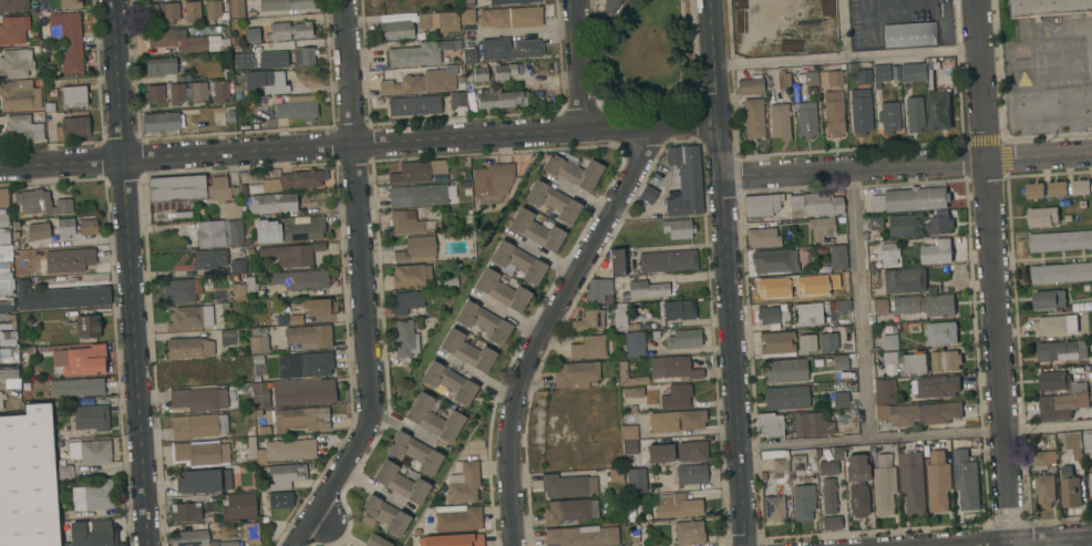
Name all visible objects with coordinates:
building: (181, 0)
building: (465, 1)
building: (509, 1)
building: (70, 3)
building: (285, 4)
building: (12, 6)
building: (610, 6)
building: (1051, 7)
building: (236, 8)
building: (212, 9)
building: (33, 10)
building: (40, 10)
building: (192, 10)
building: (148, 12)
building: (171, 12)
building: (466, 17)
building: (511, 17)
building: (440, 21)
road: (841, 29)
building: (13, 30)
building: (394, 30)
building: (289, 31)
road: (525, 31)
road: (727, 32)
building: (250, 34)
building: (909, 34)
building: (34, 38)
building: (68, 41)
building: (184, 41)
building: (527, 49)
building: (420, 53)
building: (468, 55)
park: (646, 55)
building: (302, 56)
road: (845, 56)
building: (272, 60)
building: (243, 61)
building: (16, 63)
road: (578, 63)
building: (162, 69)
building: (504, 71)
building: (913, 72)
building: (226, 73)
building: (480, 74)
building: (880, 74)
building: (863, 76)
building: (808, 78)
building: (834, 79)
building: (783, 81)
building: (262, 82)
building: (421, 82)
building: (750, 86)
building: (220, 91)
building: (198, 92)
building: (176, 94)
road: (638, 94)
building: (153, 95)
building: (19, 96)
building: (73, 96)
building: (457, 100)
building: (501, 100)
road: (610, 103)
building: (413, 106)
building: (297, 107)
building: (939, 110)
road: (645, 113)
building: (833, 113)
road: (1000, 113)
building: (914, 114)
building: (861, 115)
building: (230, 116)
building: (888, 117)
building: (753, 119)
building: (805, 120)
building: (162, 122)
building: (780, 122)
building: (74, 126)
building: (21, 130)
road: (357, 142)
road: (906, 164)
building: (418, 172)
building: (573, 172)
building: (461, 175)
building: (243, 176)
building: (287, 182)
building: (684, 182)
building: (491, 183)
building: (463, 185)
building: (1080, 187)
building: (1058, 188)
building: (1034, 189)
building: (187, 192)
building: (648, 194)
building: (416, 196)
building: (2, 197)
building: (910, 199)
building: (552, 202)
building: (42, 203)
building: (270, 203)
building: (821, 204)
building: (761, 205)
building: (231, 210)
building: (1042, 216)
building: (3, 218)
building: (468, 218)
building: (1068, 218)
building: (539, 219)
building: (839, 220)
building: (544, 222)
building: (409, 223)
building: (875, 223)
building: (14, 225)
building: (902, 225)
building: (939, 225)
building: (64, 227)
building: (87, 227)
building: (678, 228)
building: (821, 228)
building: (289, 229)
building: (535, 230)
building: (38, 231)
building: (218, 234)
building: (14, 235)
building: (4, 236)
building: (762, 237)
building: (1060, 240)
building: (248, 241)
road: (680, 247)
building: (887, 249)
building: (3, 250)
building: (416, 250)
building: (249, 251)
building: (937, 251)
building: (291, 255)
building: (837, 258)
building: (208, 259)
building: (68, 260)
building: (517, 261)
building: (667, 261)
building: (774, 261)
building: (617, 262)
building: (236, 266)
building: (457, 266)
building: (3, 267)
building: (870, 267)
building: (427, 271)
road: (131, 272)
road: (725, 272)
road: (989, 272)
building: (1061, 272)
building: (870, 274)
building: (408, 276)
building: (241, 277)
building: (636, 278)
building: (300, 279)
road: (86, 280)
building: (905, 280)
building: (449, 281)
building: (617, 282)
road: (360, 284)
building: (250, 285)
building: (6, 287)
building: (1090, 288)
building: (598, 289)
building: (181, 290)
building: (237, 290)
building: (645, 290)
building: (501, 291)
building: (59, 297)
building: (1049, 299)
building: (405, 301)
road: (858, 303)
building: (924, 305)
building: (6, 306)
building: (843, 306)
building: (879, 307)
building: (318, 308)
building: (678, 310)
building: (807, 313)
building: (766, 315)
building: (188, 318)
building: (295, 319)
building: (621, 320)
building: (7, 321)
building: (587, 321)
building: (483, 322)
building: (1057, 324)
road: (543, 326)
building: (85, 327)
building: (941, 333)
building: (4, 336)
building: (309, 337)
building: (228, 338)
building: (405, 339)
building: (683, 339)
building: (827, 342)
building: (888, 342)
building: (633, 343)
building: (805, 343)
building: (258, 344)
building: (776, 344)
building: (188, 348)
building: (593, 348)
building: (465, 351)
building: (1061, 351)
building: (8, 354)
building: (889, 358)
building: (80, 361)
building: (945, 361)
building: (838, 362)
building: (915, 362)
building: (305, 365)
building: (31, 367)
building: (257, 368)
building: (621, 369)
building: (673, 369)
building: (783, 371)
building: (8, 372)
building: (575, 374)
building: (1053, 381)
building: (449, 382)
building: (935, 387)
building: (75, 388)
building: (632, 392)
building: (884, 392)
building: (293, 393)
building: (676, 396)
building: (785, 398)
building: (1, 400)
building: (198, 400)
building: (838, 400)
building: (1060, 406)
building: (257, 413)
building: (919, 414)
building: (91, 418)
building: (433, 419)
building: (297, 421)
building: (676, 421)
building: (770, 425)
building: (811, 425)
building: (197, 426)
building: (629, 433)
road: (914, 435)
building: (1051, 442)
building: (1088, 443)
building: (60, 444)
building: (1074, 444)
building: (629, 447)
building: (250, 449)
building: (289, 450)
building: (90, 452)
building: (413, 452)
building: (691, 452)
building: (200, 454)
building: (659, 454)
building: (836, 454)
building: (259, 456)
building: (1044, 459)
building: (776, 463)
building: (797, 463)
building: (827, 468)
building: (64, 473)
building: (616, 473)
building: (691, 474)
building: (281, 476)
building: (28, 480)
building: (966, 480)
building: (203, 481)
building: (636, 481)
building: (911, 481)
building: (938, 482)
building: (400, 483)
building: (464, 484)
building: (884, 485)
building: (1090, 485)
building: (567, 486)
building: (857, 486)
building: (1044, 491)
building: (1070, 492)
building: (93, 496)
building: (828, 496)
building: (279, 499)
building: (803, 502)
building: (238, 506)
building: (677, 506)
building: (773, 508)
building: (569, 511)
building: (185, 513)
building: (385, 516)
building: (456, 518)
building: (208, 519)
building: (831, 523)
building: (689, 533)
building: (91, 534)
building: (249, 534)
building: (581, 536)
building: (633, 536)
building: (189, 538)
building: (375, 540)
building: (452, 540)
road: (1018, 542)
road: (1045, 543)
building: (213, 544)
building: (228, 544)

